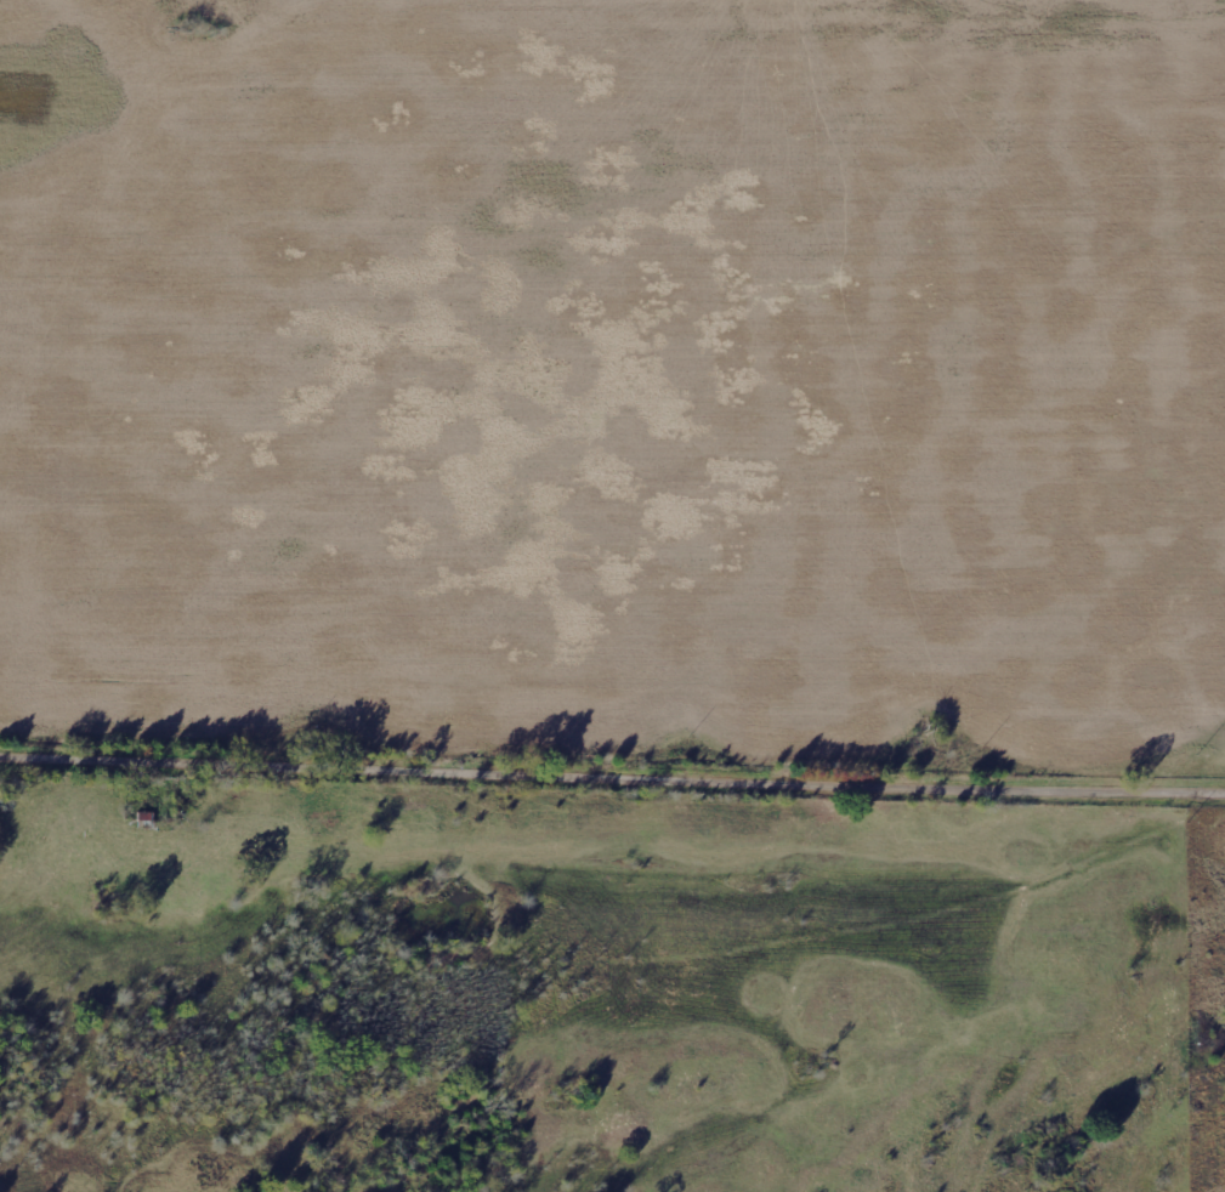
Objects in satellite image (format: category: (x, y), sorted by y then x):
road: (612, 781)

